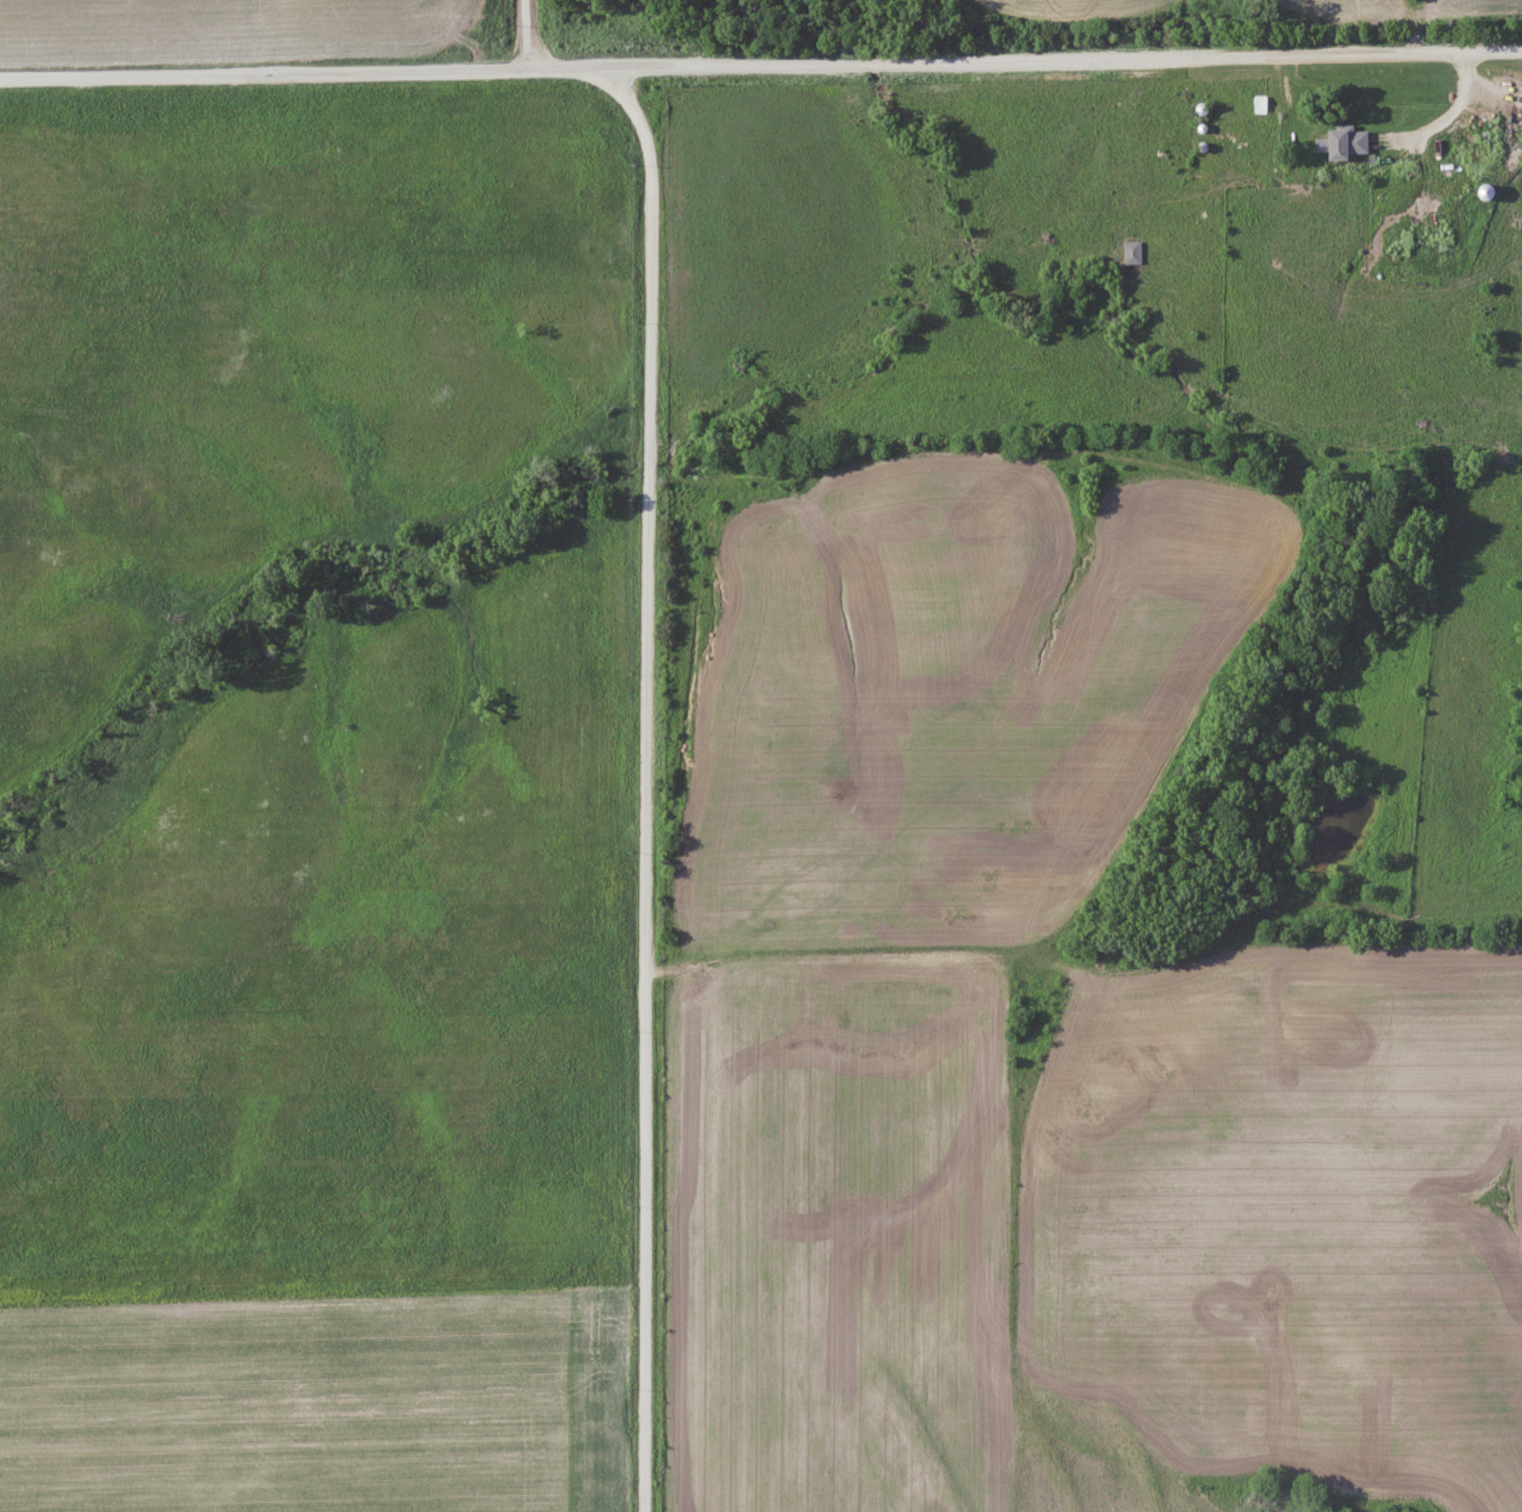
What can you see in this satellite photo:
road: (527, 35)
road: (760, 64)
building: (1258, 105)
building: (1343, 143)
building: (1131, 252)
road: (647, 783)

